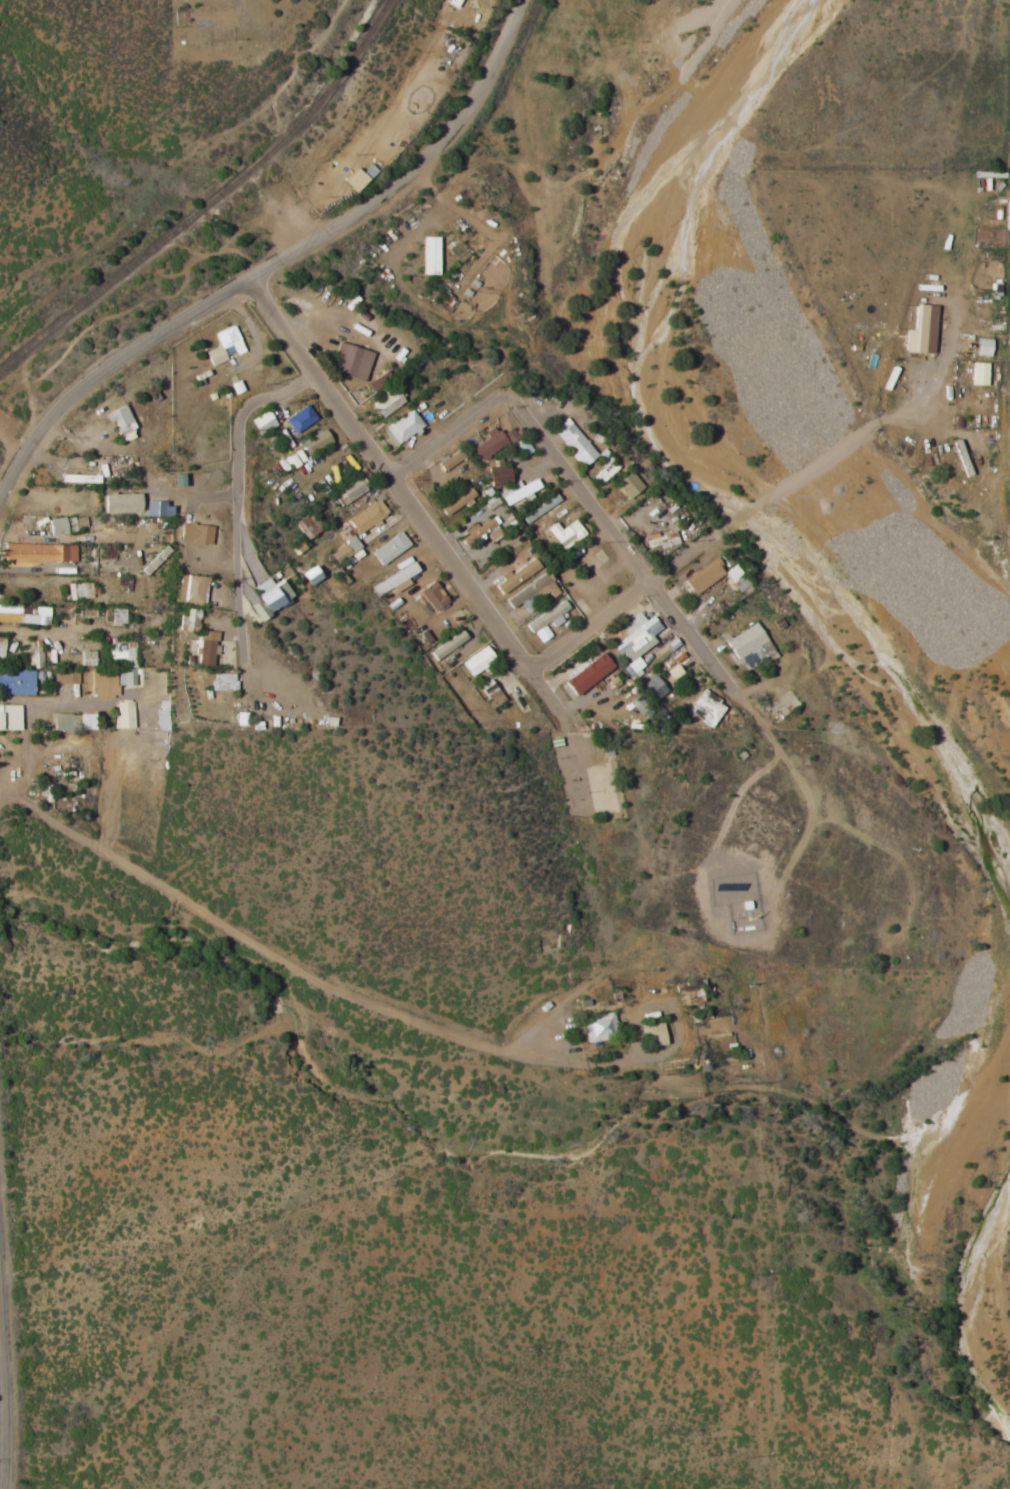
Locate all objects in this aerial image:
building: (354, 180)
railway: (210, 200)
building: (1007, 214)
building: (429, 256)
road: (277, 264)
building: (921, 331)
building: (224, 346)
building: (982, 347)
building: (351, 362)
building: (979, 374)
building: (379, 381)
building: (388, 403)
building: (299, 419)
building: (121, 422)
building: (262, 423)
building: (401, 428)
building: (316, 441)
building: (573, 442)
building: (492, 443)
building: (448, 460)
building: (498, 475)
river: (703, 477)
road: (575, 481)
building: (628, 486)
building: (516, 491)
road: (401, 498)
building: (491, 502)
road: (241, 503)
building: (119, 504)
building: (541, 509)
building: (156, 510)
building: (367, 518)
building: (65, 526)
building: (308, 526)
building: (487, 531)
building: (195, 534)
building: (565, 534)
building: (662, 541)
building: (390, 549)
building: (38, 554)
building: (259, 573)
building: (311, 576)
building: (514, 577)
building: (714, 577)
building: (396, 578)
building: (188, 589)
building: (79, 591)
building: (531, 594)
building: (432, 596)
building: (268, 598)
road: (619, 605)
building: (23, 615)
building: (117, 616)
building: (186, 621)
building: (546, 622)
building: (635, 637)
building: (448, 646)
building: (748, 647)
building: (1, 649)
building: (203, 649)
building: (32, 652)
building: (88, 659)
building: (477, 661)
building: (126, 663)
building: (632, 668)
building: (673, 673)
building: (587, 674)
building: (67, 677)
building: (16, 682)
building: (219, 683)
building: (653, 688)
building: (491, 693)
building: (638, 706)
building: (704, 709)
road: (16, 715)
building: (123, 716)
building: (162, 717)
building: (9, 718)
building: (237, 720)
building: (73, 722)
building: (600, 1027)
building: (653, 1033)
river: (955, 1283)
road: (9, 1332)

